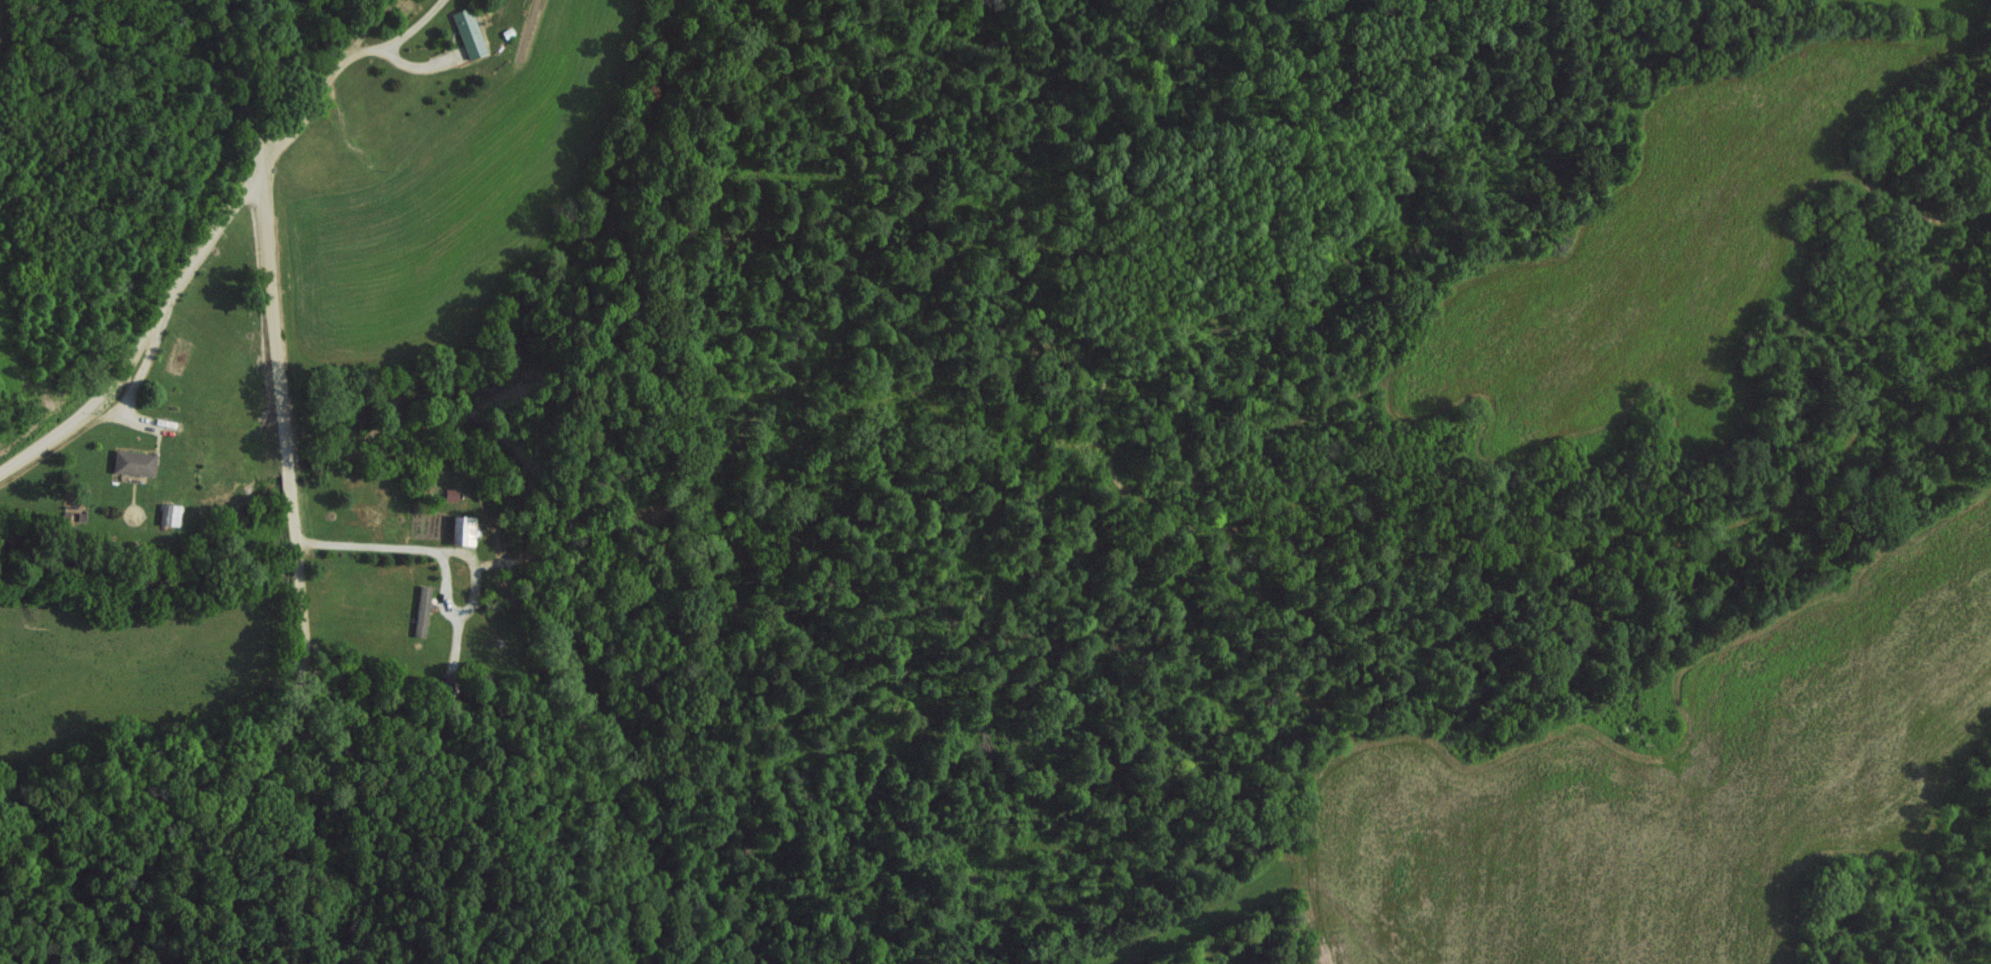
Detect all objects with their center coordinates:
building: (468, 32)
road: (342, 61)
road: (154, 336)
building: (132, 462)
road: (290, 478)
building: (168, 514)
building: (462, 529)
road: (374, 546)
building: (421, 610)

